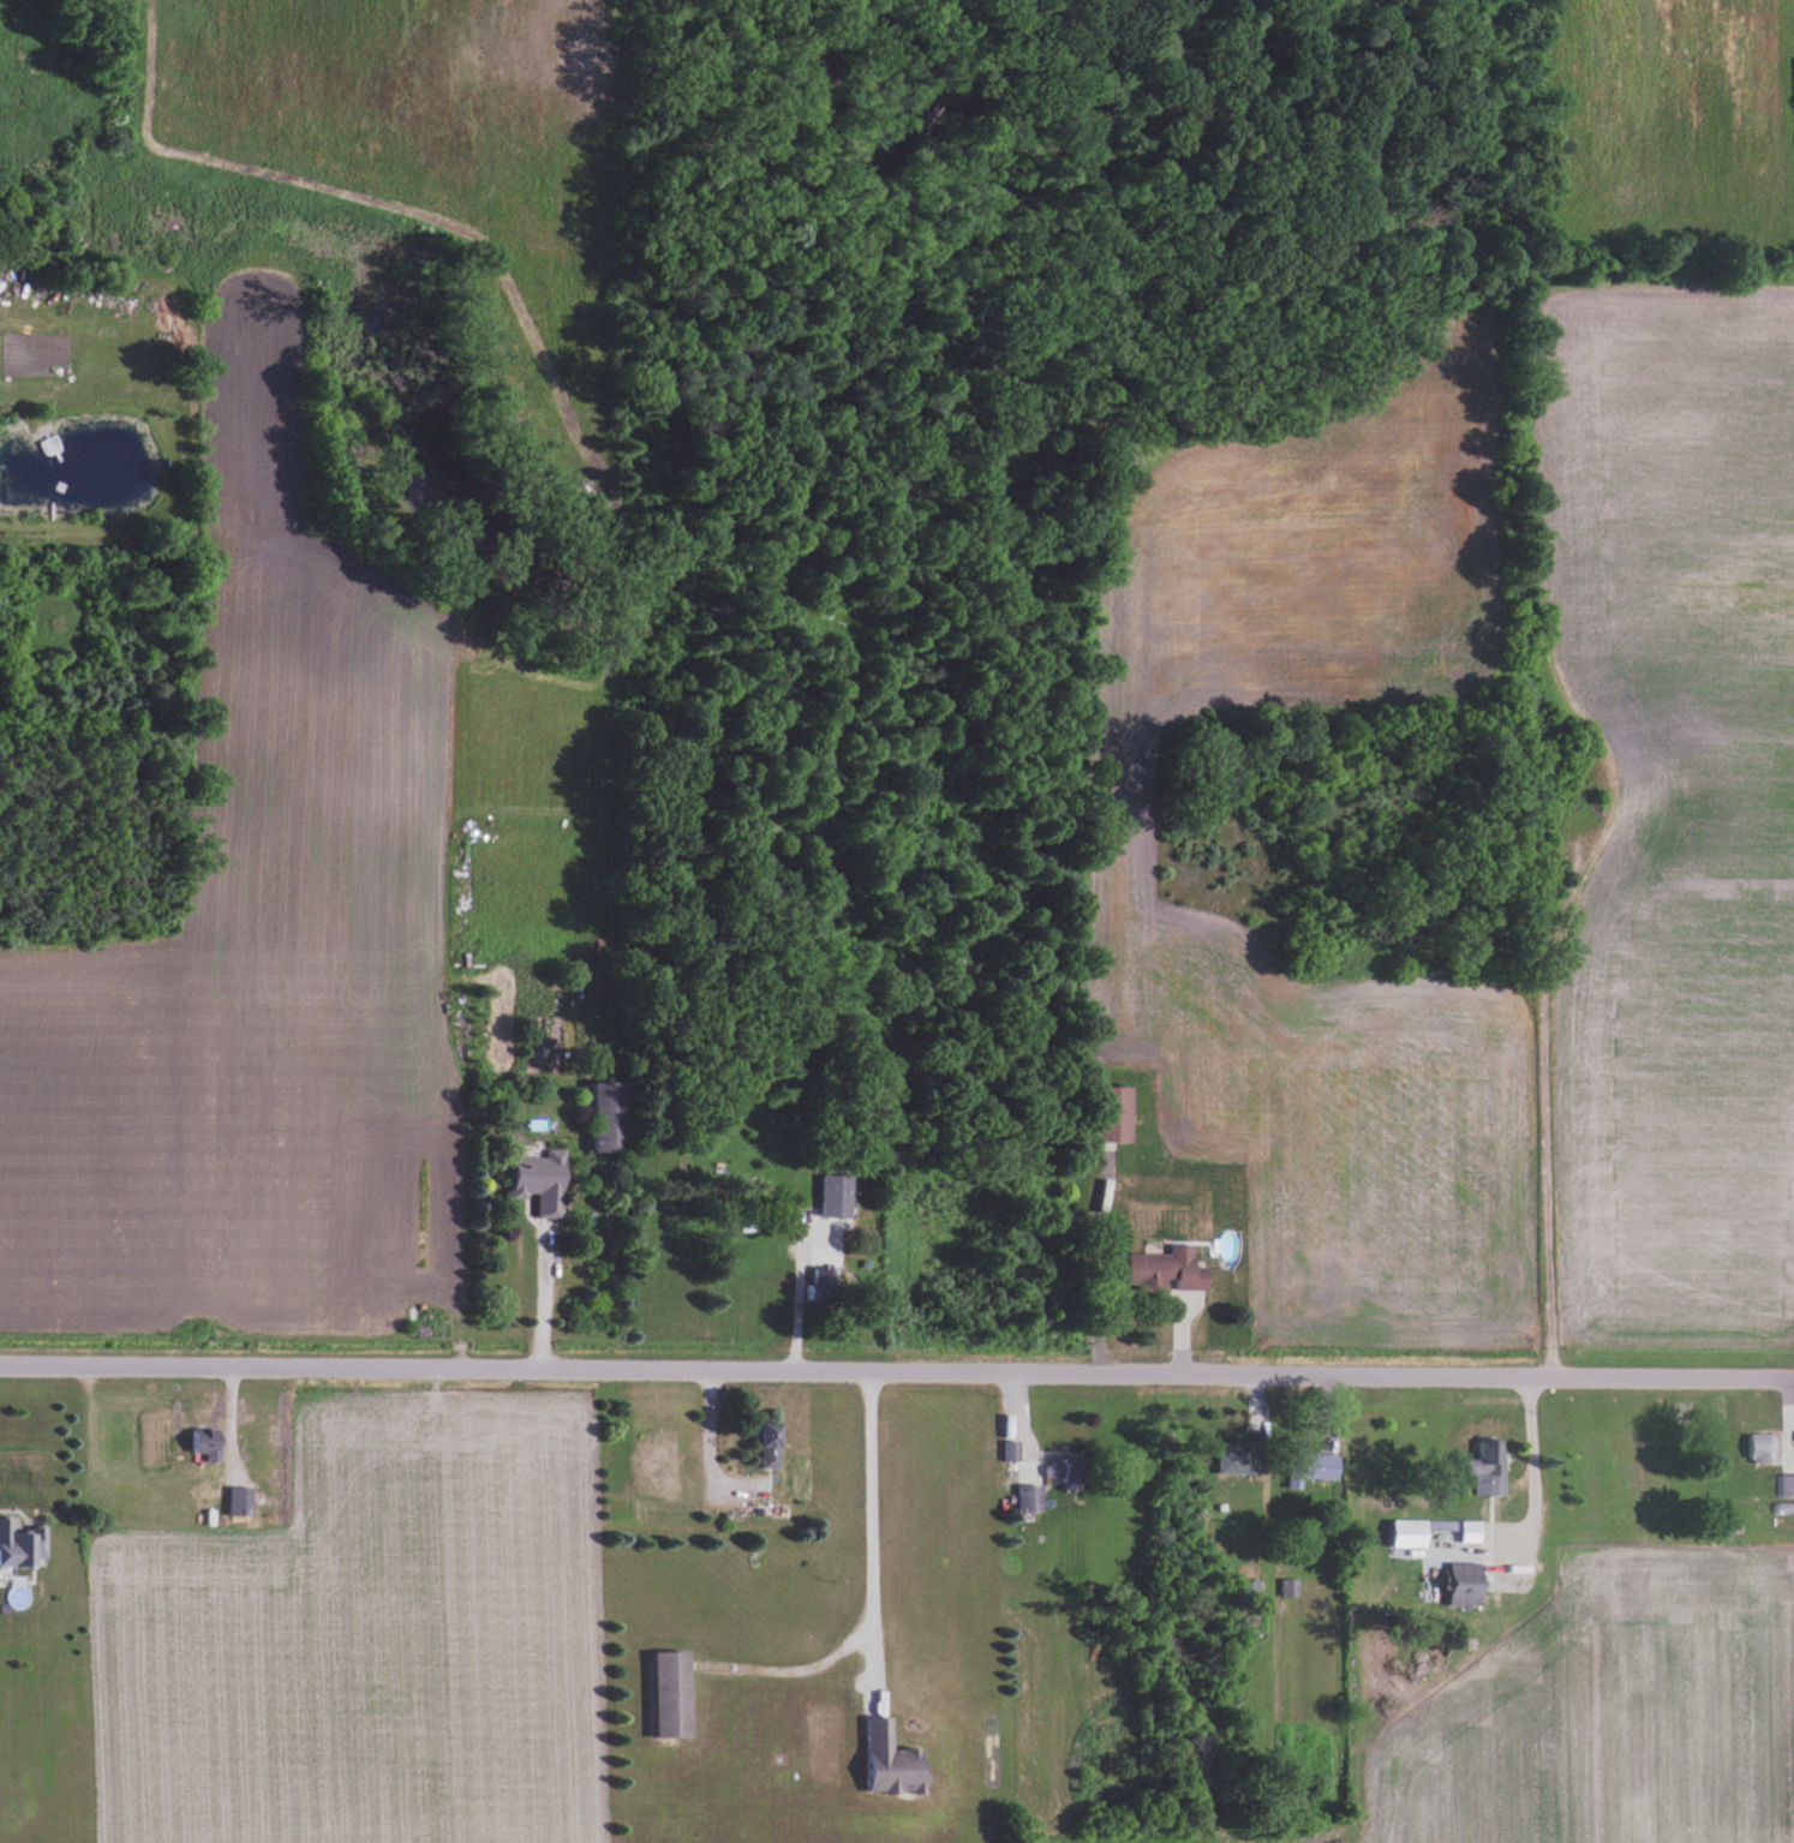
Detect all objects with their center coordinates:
building: (1118, 1114)
building: (615, 1117)
building: (545, 1180)
building: (841, 1196)
building: (827, 1237)
road: (1068, 1262)
building: (1171, 1270)
building: (824, 1283)
road: (544, 1296)
road: (800, 1302)
road: (897, 1371)
building: (209, 1443)
building: (775, 1446)
building: (1770, 1447)
building: (1015, 1449)
building: (1245, 1461)
building: (1316, 1467)
building: (1493, 1468)
building: (1071, 1470)
building: (1789, 1485)
building: (1033, 1497)
building: (244, 1501)
building: (1787, 1515)
building: (1476, 1532)
building: (1413, 1533)
building: (22, 1544)
road: (850, 1578)
building: (1471, 1584)
building: (677, 1695)
building: (895, 1763)

